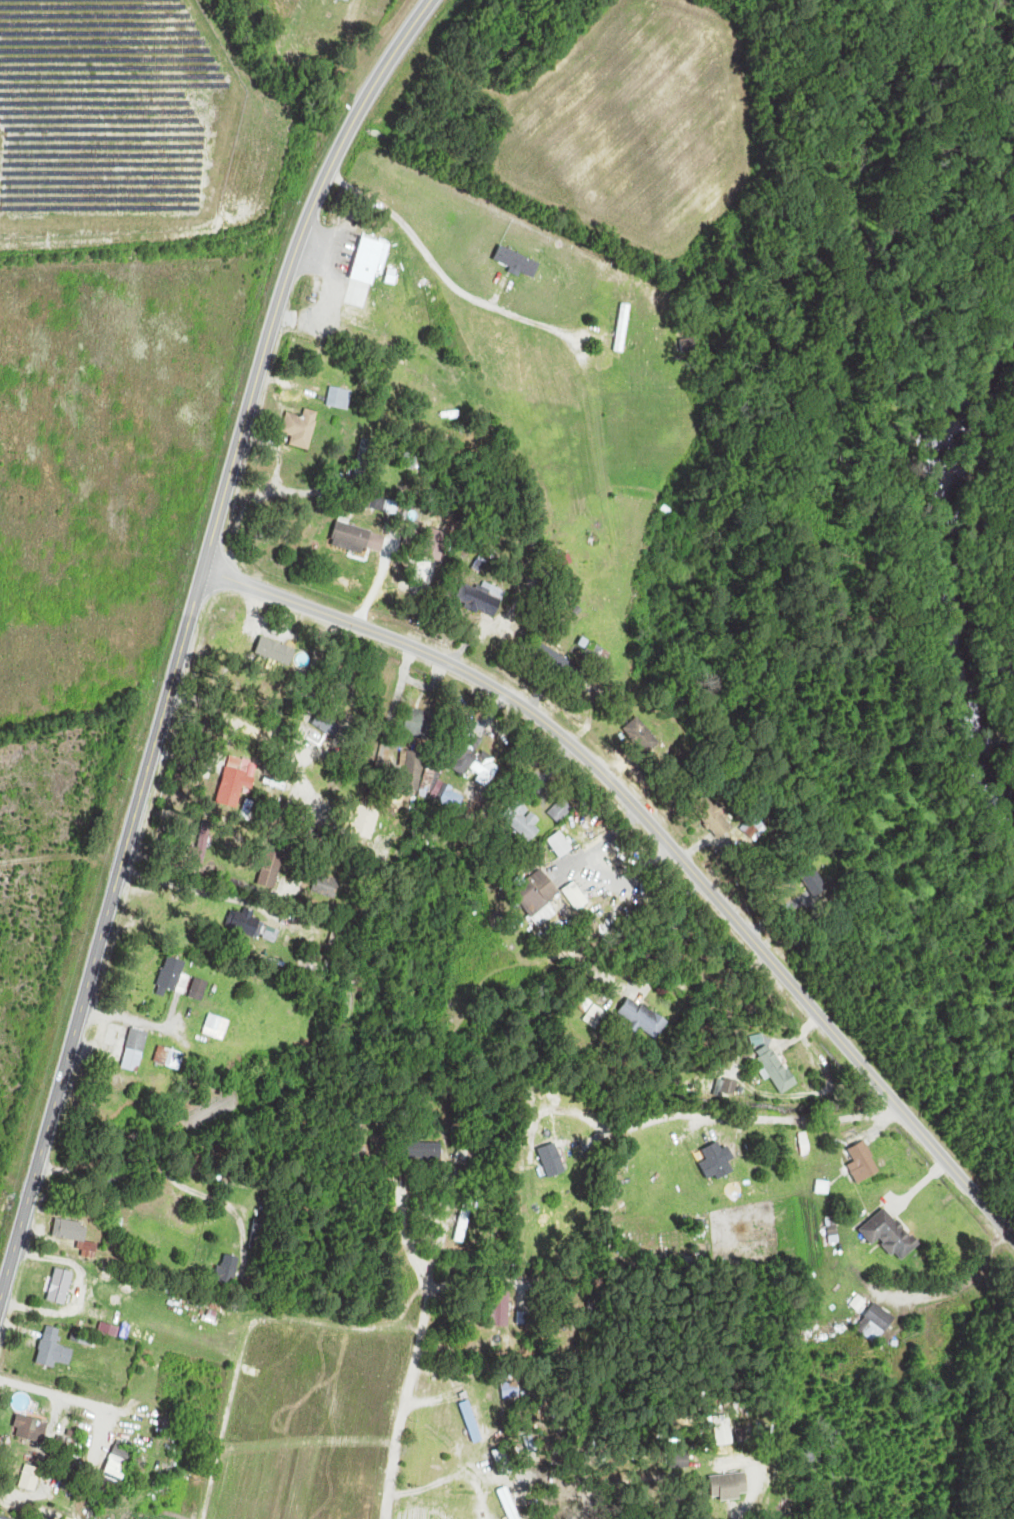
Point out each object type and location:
solar farm: (113, 116)
building: (371, 260)
building: (625, 328)
building: (691, 346)
building: (339, 405)
road: (249, 413)
building: (301, 429)
building: (647, 486)
building: (670, 509)
building: (359, 537)
river: (957, 575)
road: (262, 590)
building: (481, 598)
road: (390, 637)
building: (596, 650)
building: (422, 724)
building: (641, 731)
building: (476, 760)
building: (413, 766)
building: (706, 807)
building: (563, 810)
building: (523, 820)
building: (202, 847)
building: (270, 874)
building: (327, 885)
road: (191, 887)
building: (541, 898)
building: (254, 926)
road: (595, 935)
building: (338, 937)
road: (751, 937)
building: (176, 975)
building: (200, 989)
building: (597, 1017)
building: (646, 1018)
road: (143, 1025)
building: (218, 1026)
building: (137, 1050)
building: (170, 1058)
building: (780, 1068)
road: (63, 1084)
road: (707, 1115)
building: (384, 1145)
building: (431, 1151)
building: (864, 1157)
building: (554, 1161)
building: (717, 1163)
building: (261, 1234)
building: (893, 1235)
building: (77, 1236)
building: (230, 1270)
building: (62, 1287)
building: (526, 1319)
building: (878, 1324)
road: (424, 1343)
building: (56, 1350)
building: (471, 1416)
building: (31, 1430)
building: (736, 1438)
building: (120, 1464)
building: (32, 1478)
building: (499, 1479)
building: (732, 1488)
building: (511, 1504)
road: (22, 1511)

